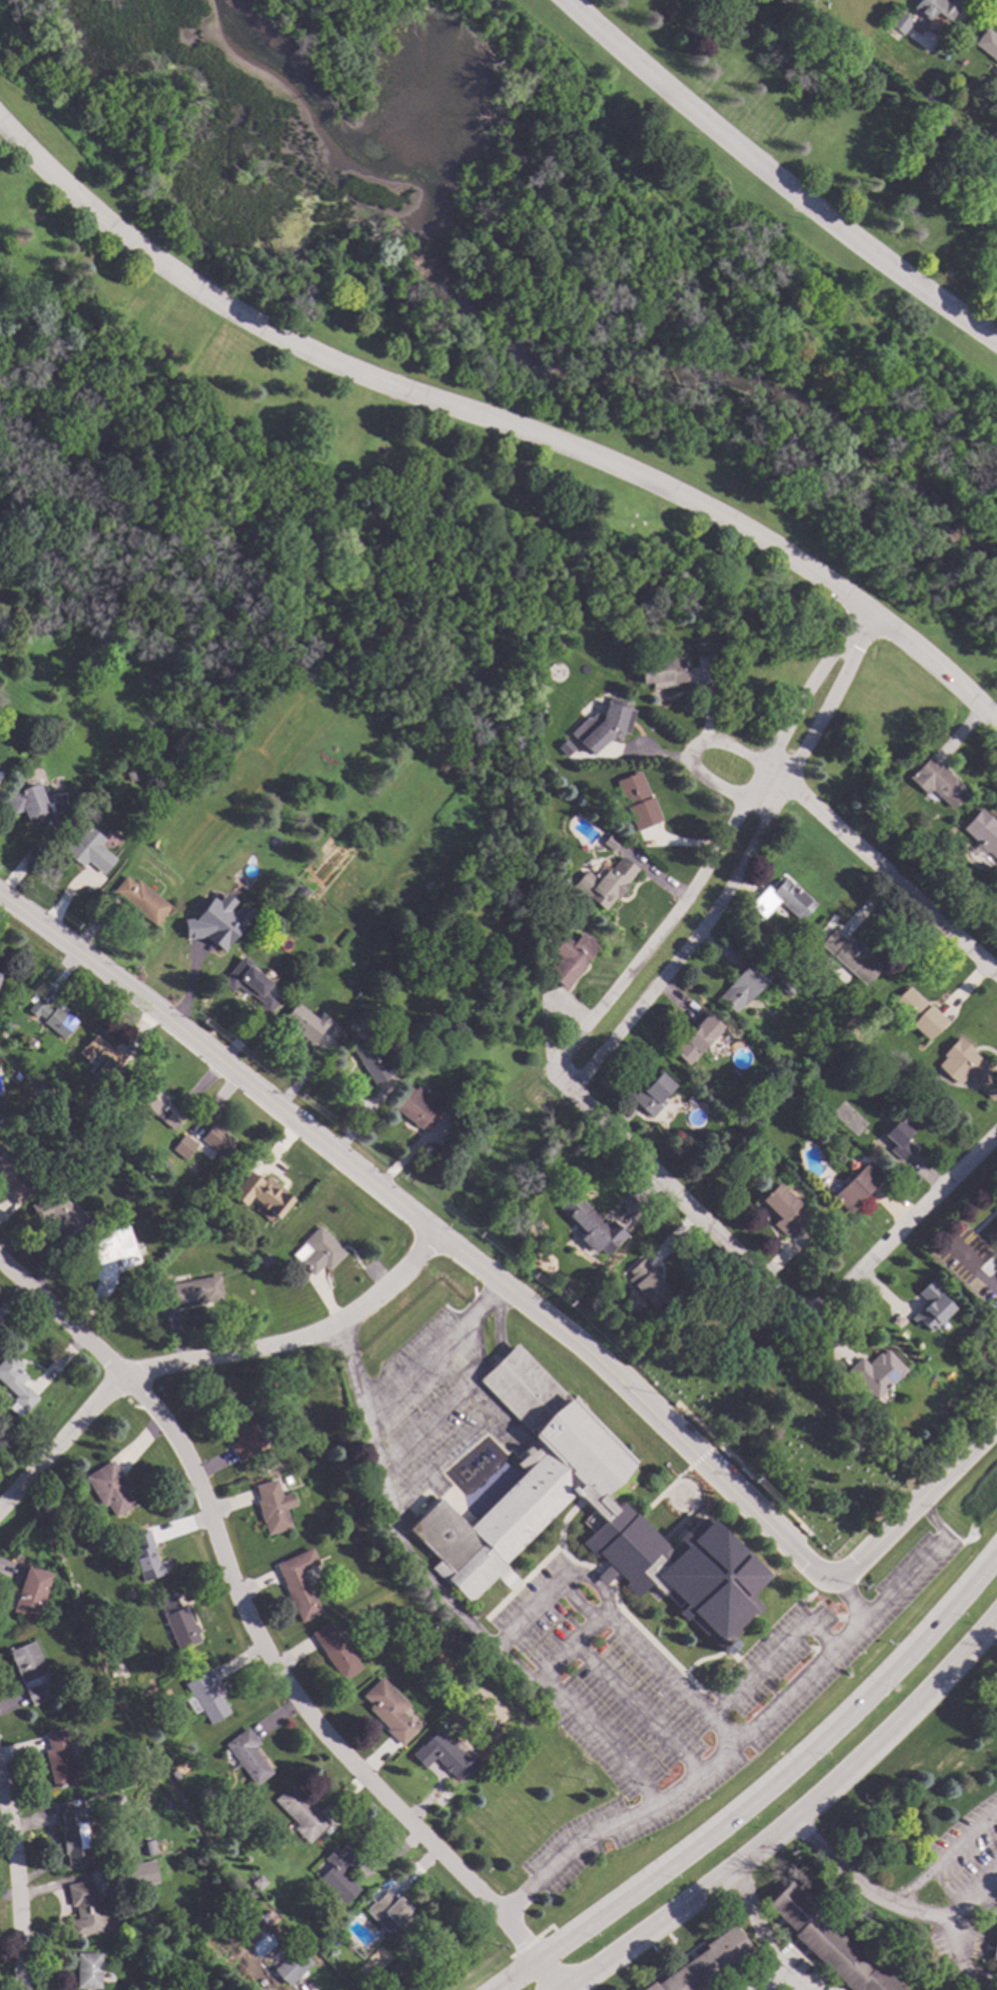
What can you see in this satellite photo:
building: (935, 8)
building: (900, 22)
building: (988, 42)
building: (931, 95)
park: (833, 129)
road: (773, 180)
park: (537, 264)
river: (554, 347)
road: (499, 422)
park: (343, 484)
building: (17, 611)
building: (43, 628)
building: (662, 672)
building: (170, 681)
building: (604, 723)
road: (691, 749)
road: (734, 753)
building: (936, 782)
road: (715, 786)
building: (637, 801)
building: (34, 802)
building: (981, 833)
building: (610, 842)
building: (88, 850)
road: (880, 874)
building: (606, 882)
building: (140, 899)
building: (781, 899)
building: (426, 906)
building: (278, 917)
building: (216, 923)
building: (811, 944)
building: (850, 956)
building: (569, 958)
building: (250, 985)
building: (743, 986)
building: (917, 1013)
building: (52, 1017)
building: (304, 1022)
building: (8, 1026)
building: (696, 1038)
building: (369, 1056)
building: (102, 1059)
building: (968, 1068)
building: (16, 1076)
road: (563, 1082)
building: (652, 1093)
building: (791, 1099)
building: (156, 1103)
building: (415, 1106)
building: (899, 1135)
building: (216, 1140)
building: (183, 1146)
building: (164, 1165)
building: (852, 1165)
building: (13, 1179)
building: (856, 1186)
building: (263, 1195)
road: (683, 1202)
building: (781, 1209)
building: (59, 1213)
road: (427, 1224)
building: (591, 1225)
road: (903, 1226)
building: (994, 1233)
building: (113, 1251)
building: (317, 1251)
building: (264, 1261)
road: (972, 1268)
building: (647, 1282)
building: (191, 1291)
building: (931, 1306)
building: (784, 1344)
road: (434, 1352)
road: (206, 1358)
building: (876, 1372)
building: (15, 1384)
parking lot: (424, 1404)
road: (445, 1412)
building: (242, 1433)
road: (453, 1453)
building: (109, 1487)
building: (533, 1496)
road: (913, 1504)
road: (383, 1505)
building: (271, 1506)
building: (144, 1555)
building: (299, 1583)
building: (31, 1592)
road: (846, 1606)
building: (179, 1623)
road: (518, 1623)
road: (256, 1638)
road: (574, 1643)
building: (335, 1650)
building: (30, 1671)
road: (755, 1672)
building: (205, 1696)
parking lot: (662, 1698)
building: (389, 1710)
road: (583, 1726)
road: (755, 1730)
building: (247, 1755)
building: (443, 1755)
building: (62, 1761)
building: (173, 1774)
road: (768, 1789)
building: (300, 1812)
road: (798, 1821)
building: (74, 1838)
building: (149, 1847)
road: (946, 1862)
building: (340, 1872)
building: (134, 1873)
road: (15, 1878)
building: (258, 1882)
road: (989, 1888)
road: (972, 1903)
building: (84, 1909)
road: (905, 1910)
building: (391, 1912)
road: (751, 1924)
building: (326, 1925)
building: (826, 1942)
building: (994, 1948)
building: (704, 1963)
building: (291, 1965)
building: (396, 1967)
building: (88, 1970)
road: (778, 1975)

